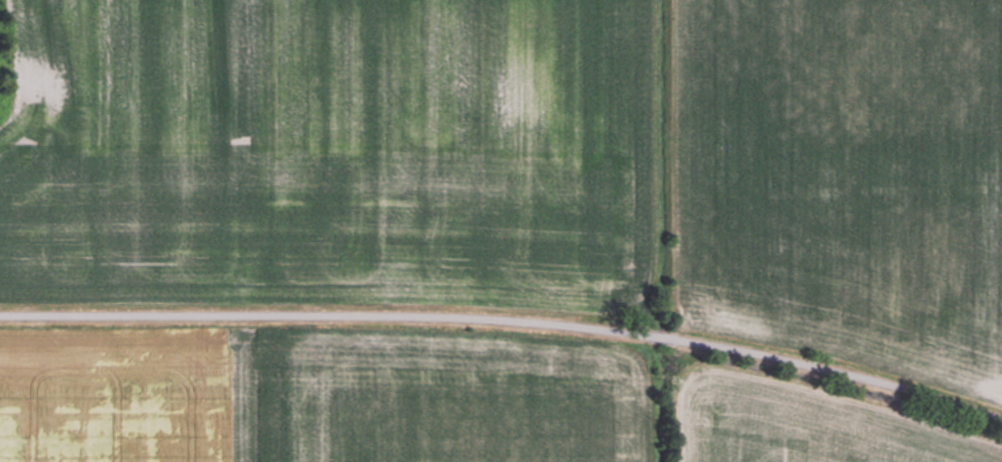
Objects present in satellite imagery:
road: (507, 315)

